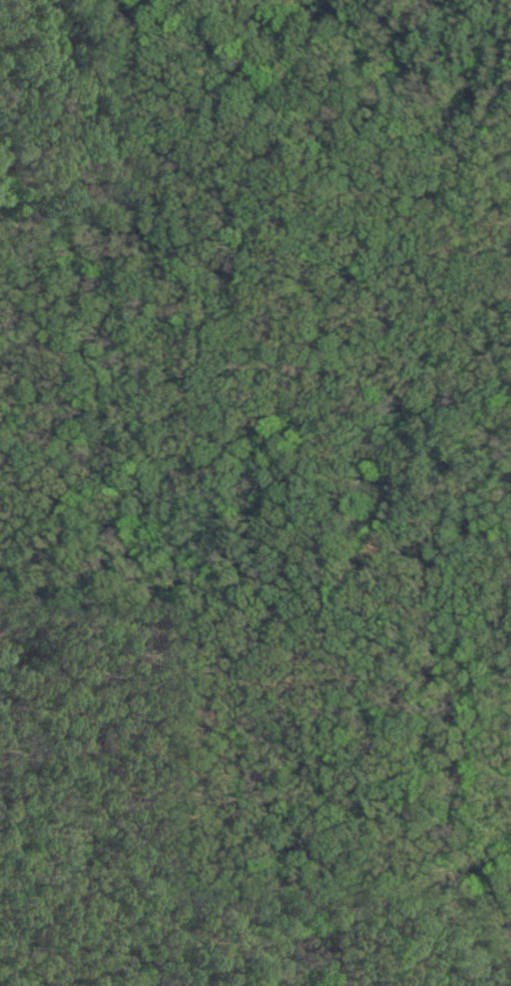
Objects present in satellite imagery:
road: (194, 390)

